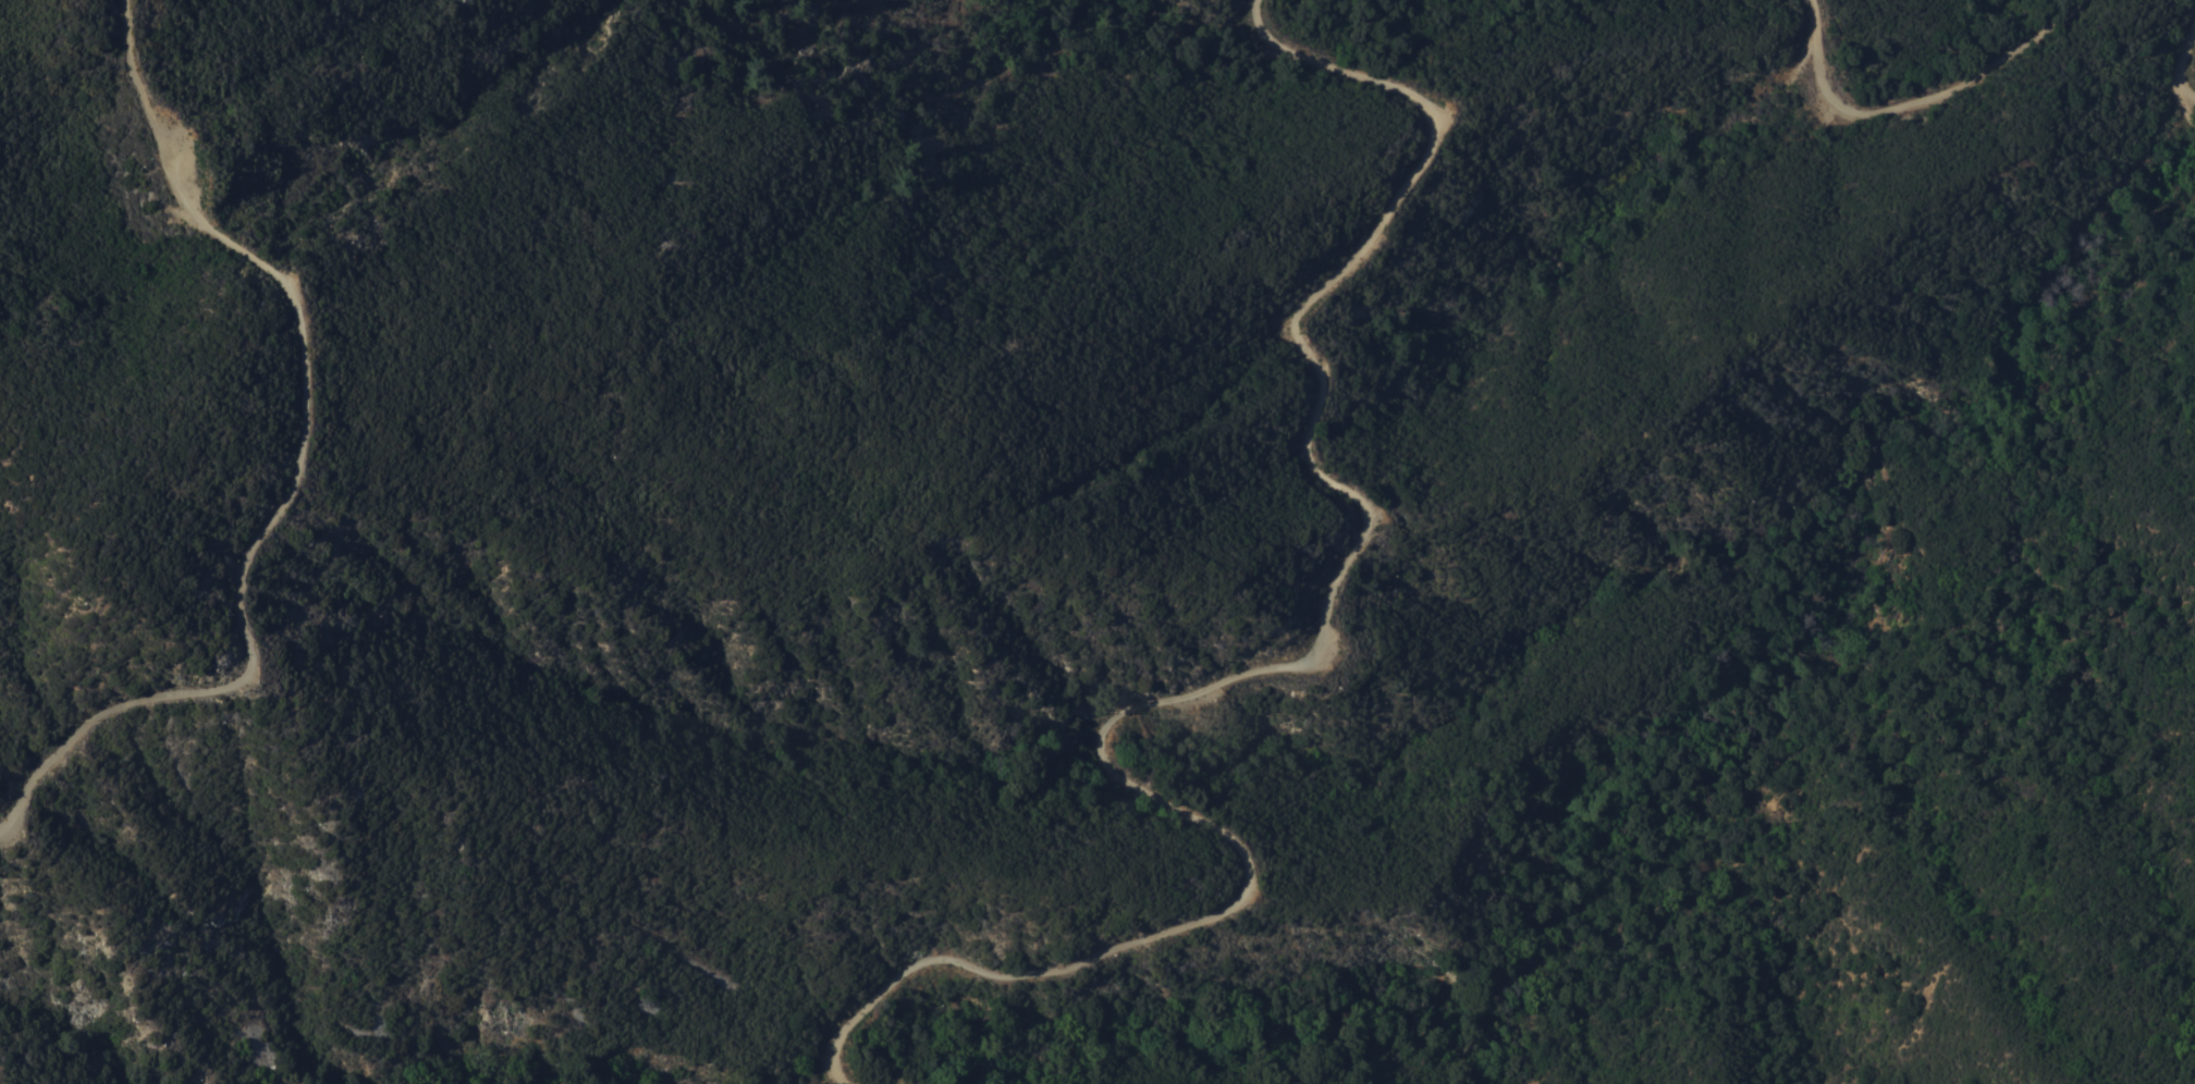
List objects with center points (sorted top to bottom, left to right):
road: (2182, 66)
road: (1918, 100)
road: (2193, 103)
road: (2174, 122)
road: (1930, 196)
road: (1376, 225)
road: (296, 467)
road: (1233, 840)

